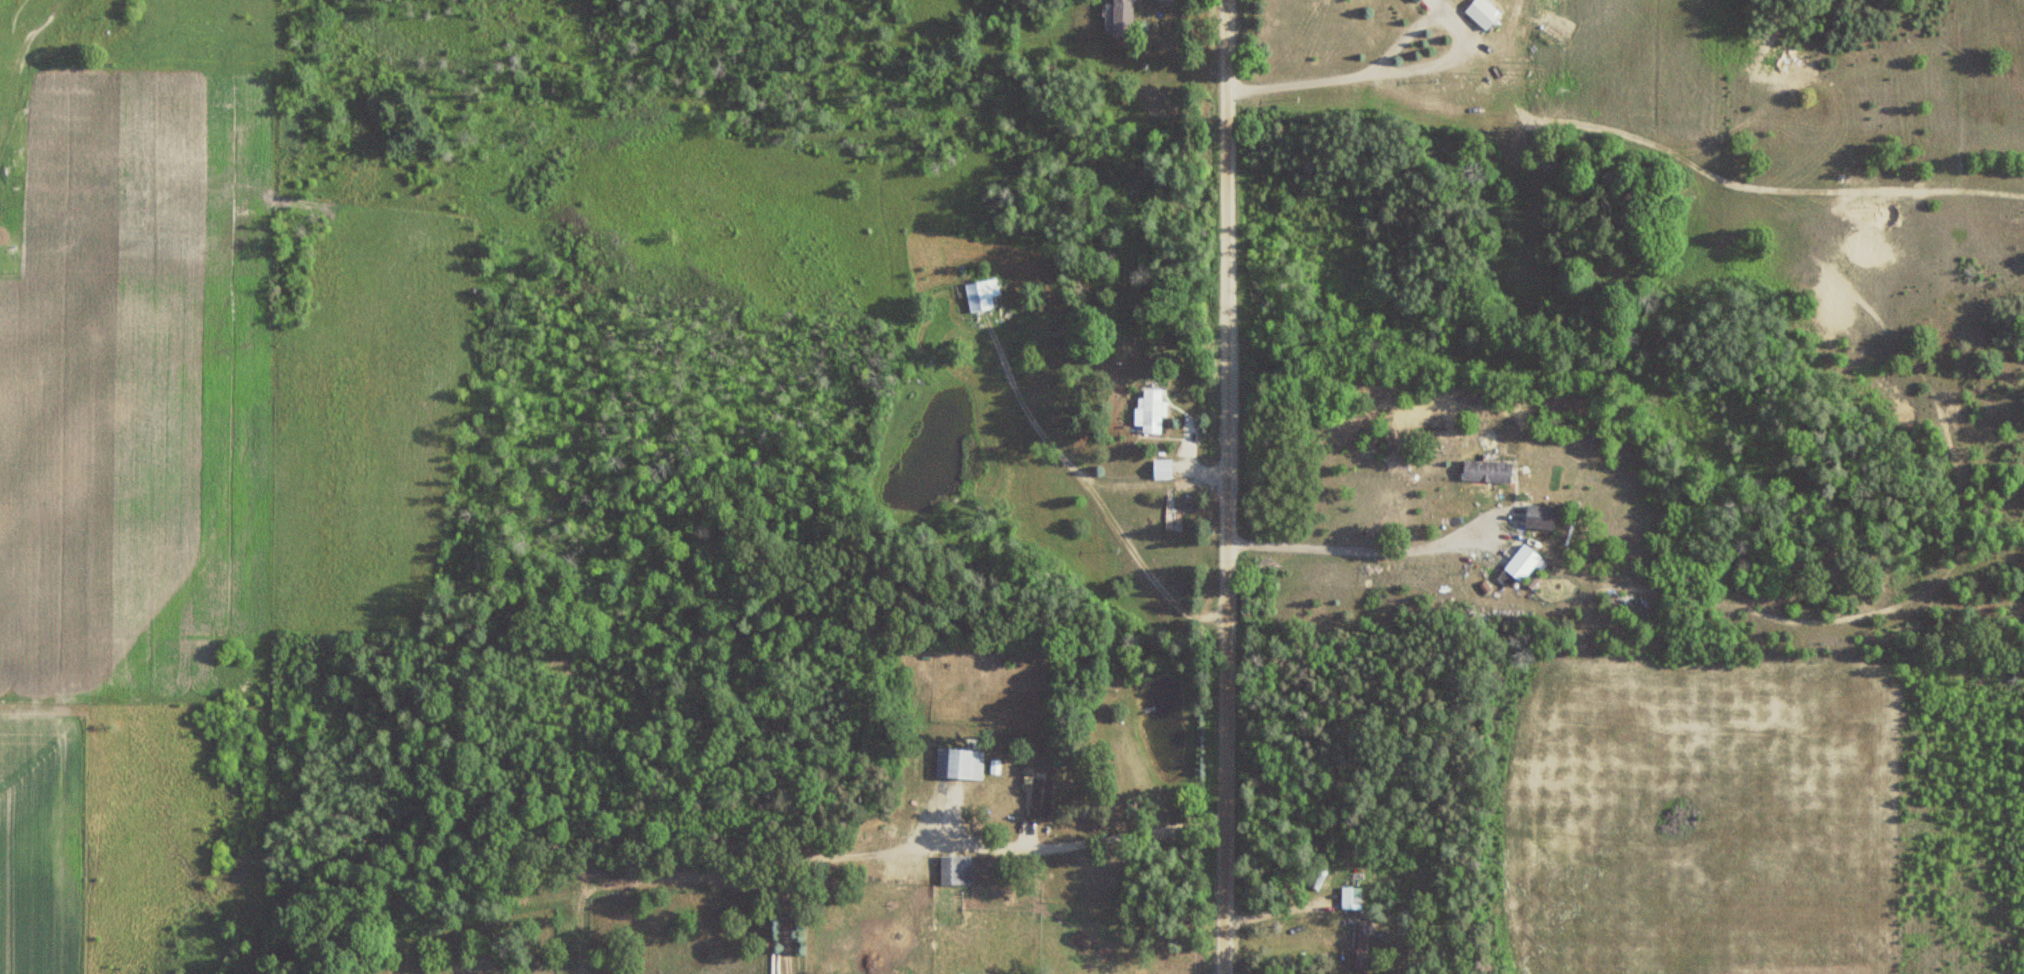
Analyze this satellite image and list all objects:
building: (1414, 0)
building: (1481, 13)
building: (1121, 18)
road: (1411, 67)
building: (980, 295)
building: (1149, 412)
building: (1160, 469)
building: (1485, 471)
road: (1218, 487)
building: (1539, 517)
building: (1040, 797)
road: (955, 849)
building: (954, 870)
building: (1350, 897)

